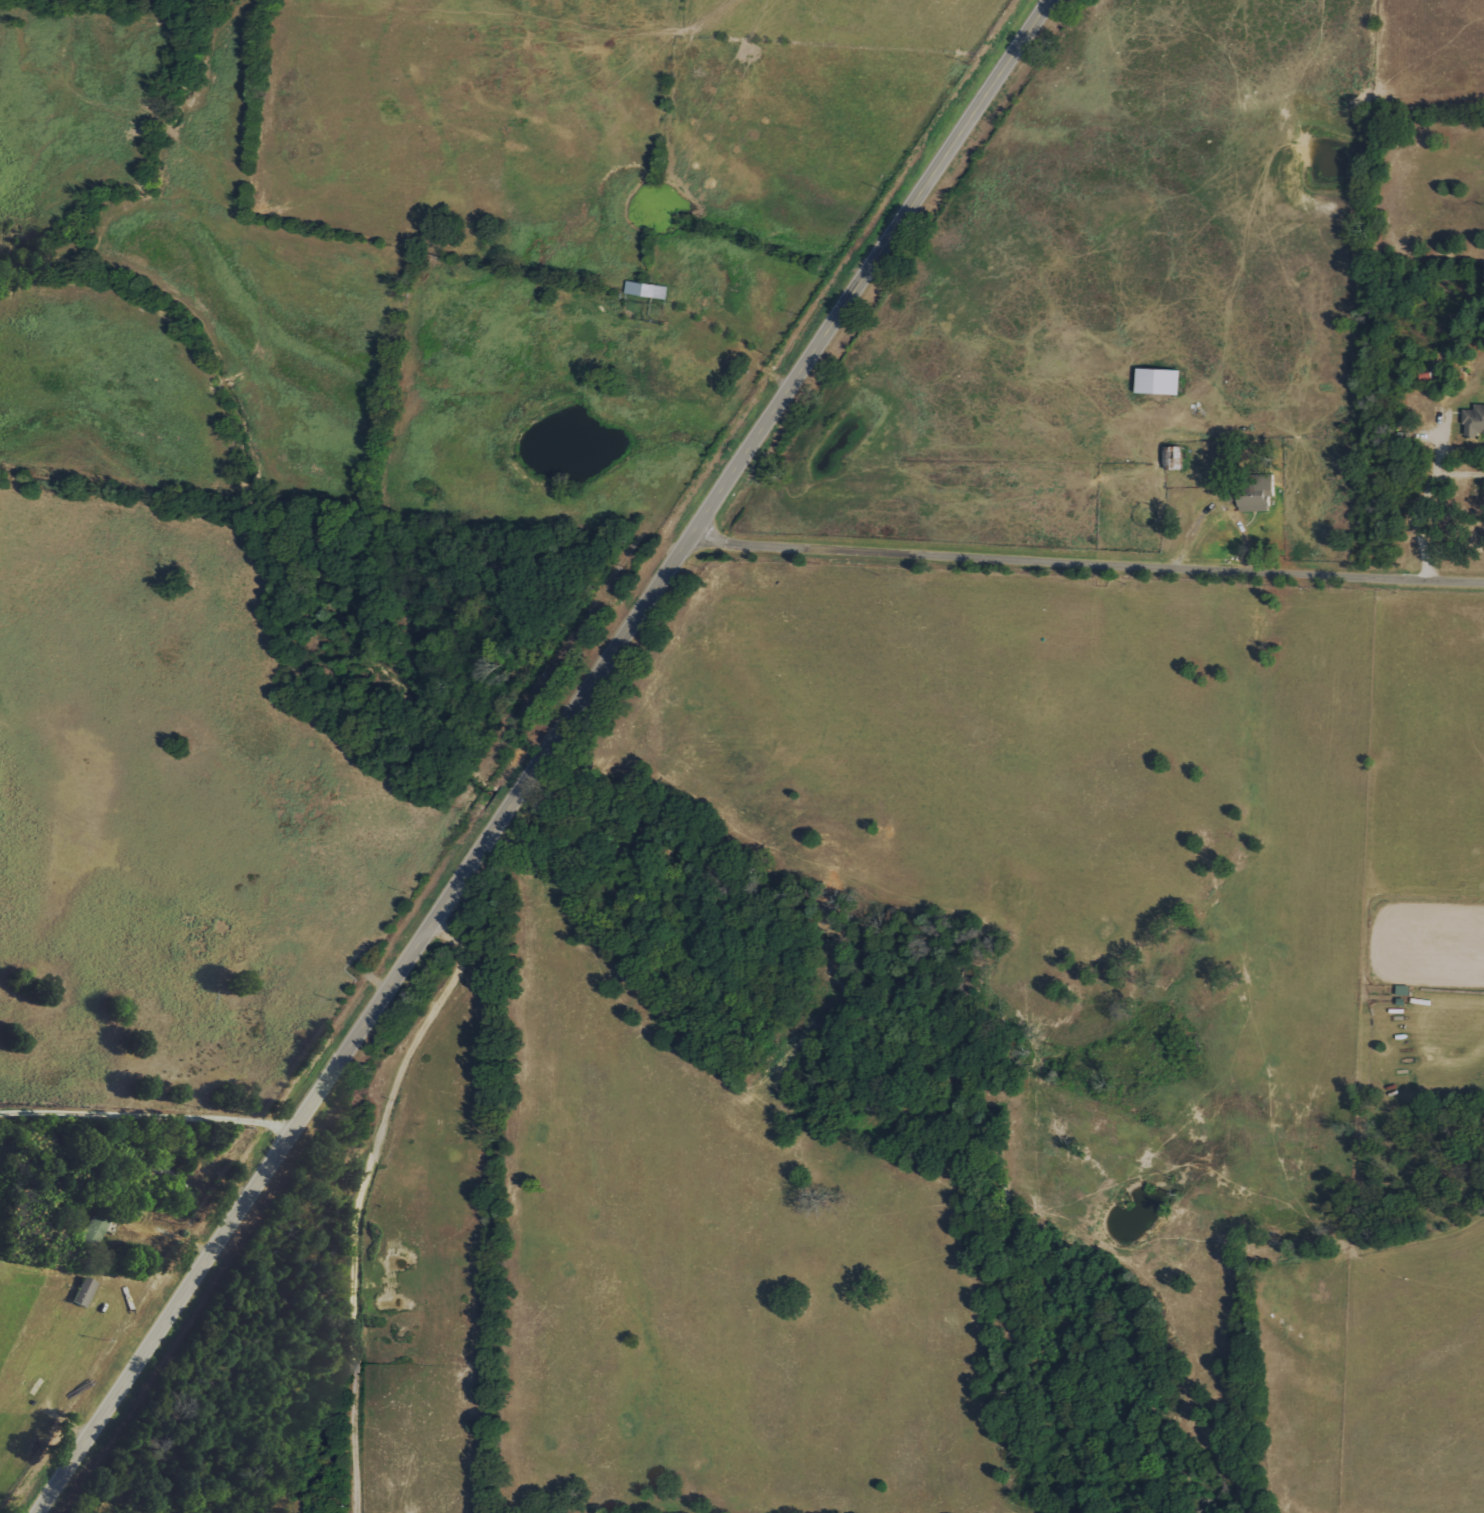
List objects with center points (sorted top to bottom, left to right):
building: (645, 289)
building: (1156, 380)
building: (1473, 420)
building: (1171, 457)
road: (1455, 478)
building: (1257, 495)
road: (1426, 498)
road: (1089, 560)
road: (551, 759)
road: (153, 1110)
road: (362, 1202)
building: (95, 1225)
road: (178, 1234)
building: (83, 1291)

